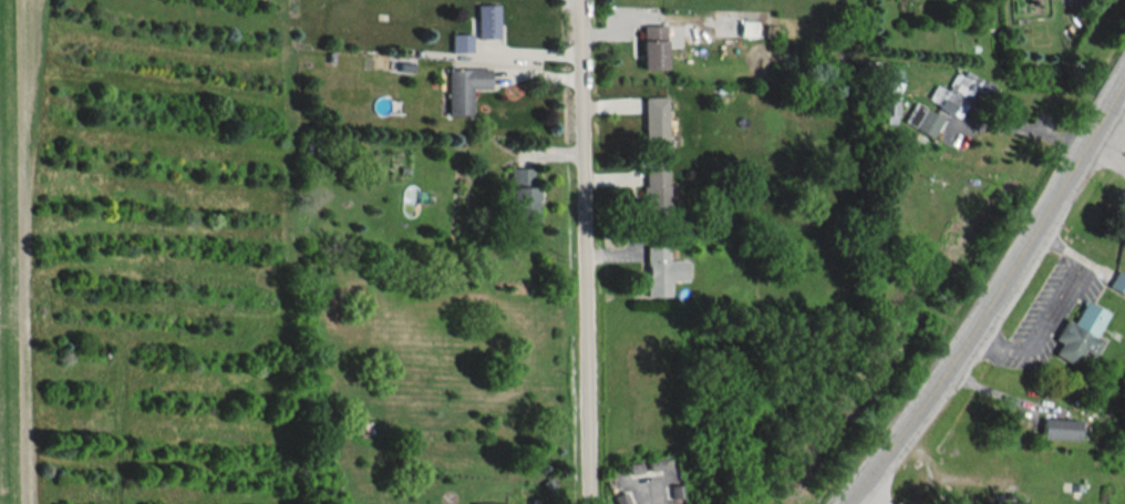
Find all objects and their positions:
building: (486, 20)
building: (460, 42)
building: (651, 45)
building: (889, 80)
building: (463, 88)
building: (960, 93)
building: (888, 111)
building: (921, 119)
building: (653, 122)
road: (1025, 127)
building: (520, 194)
building: (654, 194)
building: (1121, 225)
road: (587, 251)
building: (661, 270)
building: (1117, 281)
road: (992, 294)
building: (1078, 332)
building: (1059, 428)
road: (649, 496)
building: (486, 503)

